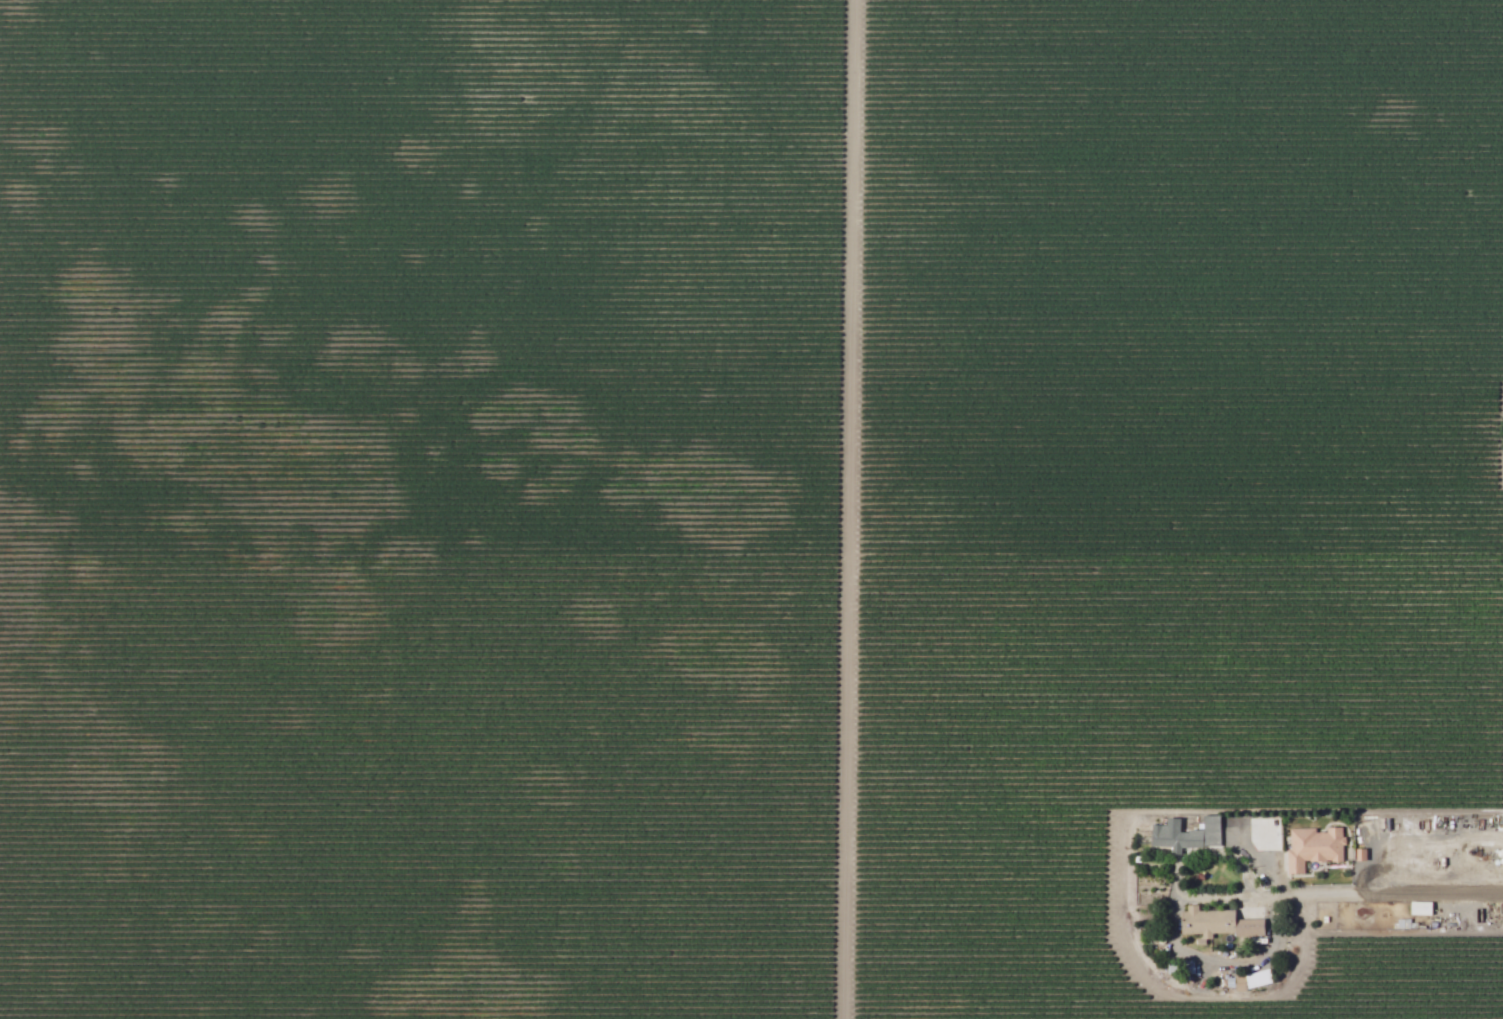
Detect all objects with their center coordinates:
crop: (751, 509)
building: (1188, 833)
building: (1315, 846)
road: (1341, 894)
building: (1422, 907)
building: (1218, 923)

